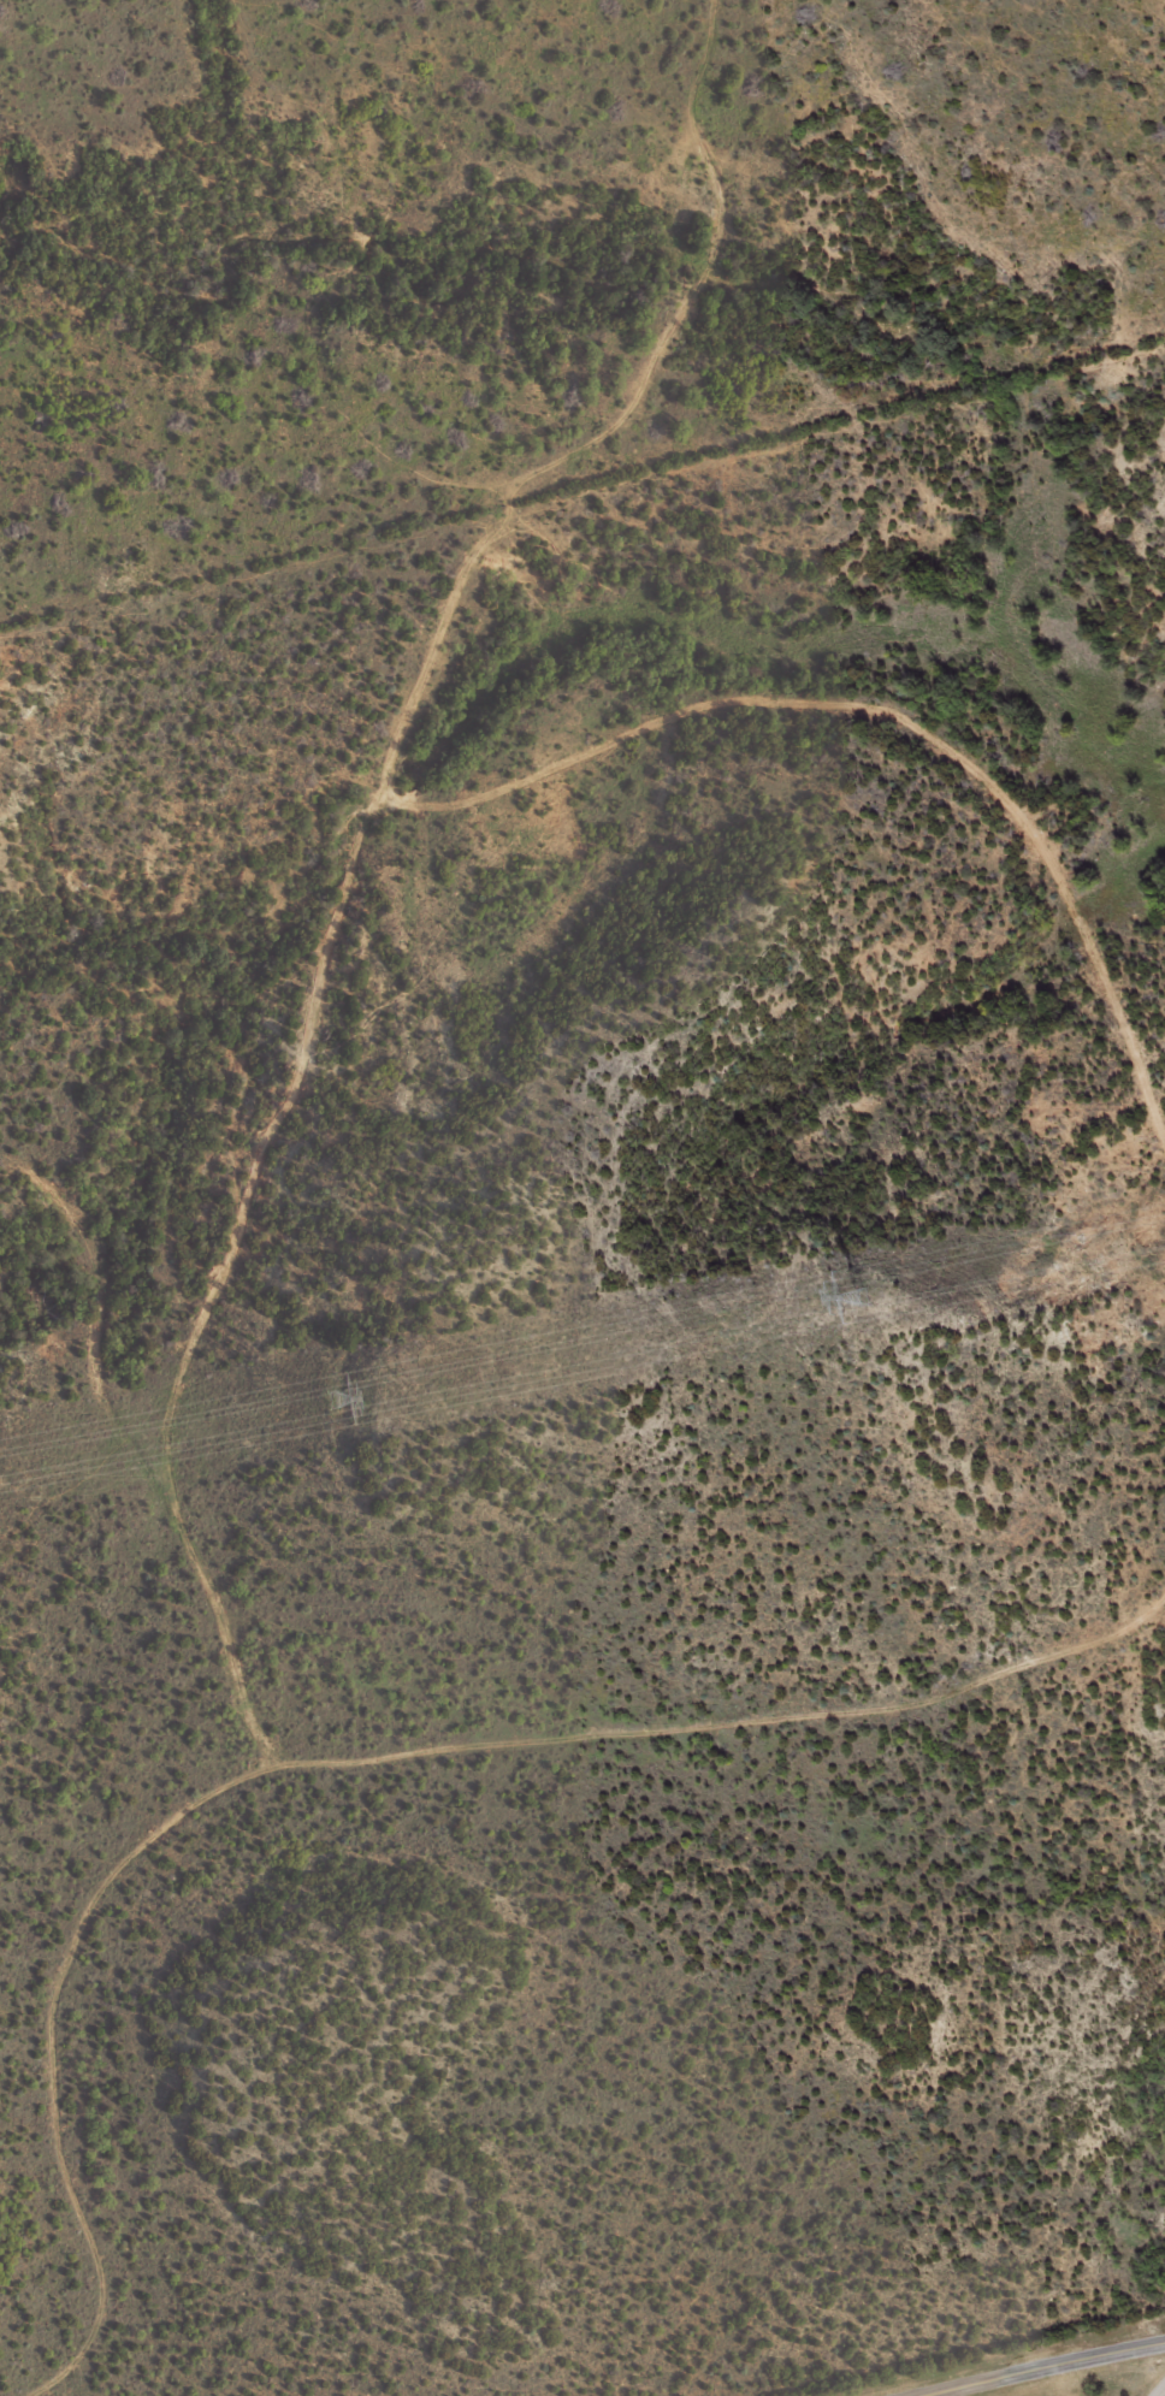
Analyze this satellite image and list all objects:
power tower: (853, 1300)
power tower: (317, 1400)
road: (354, 1777)
road: (1045, 2370)
road: (1160, 2391)

